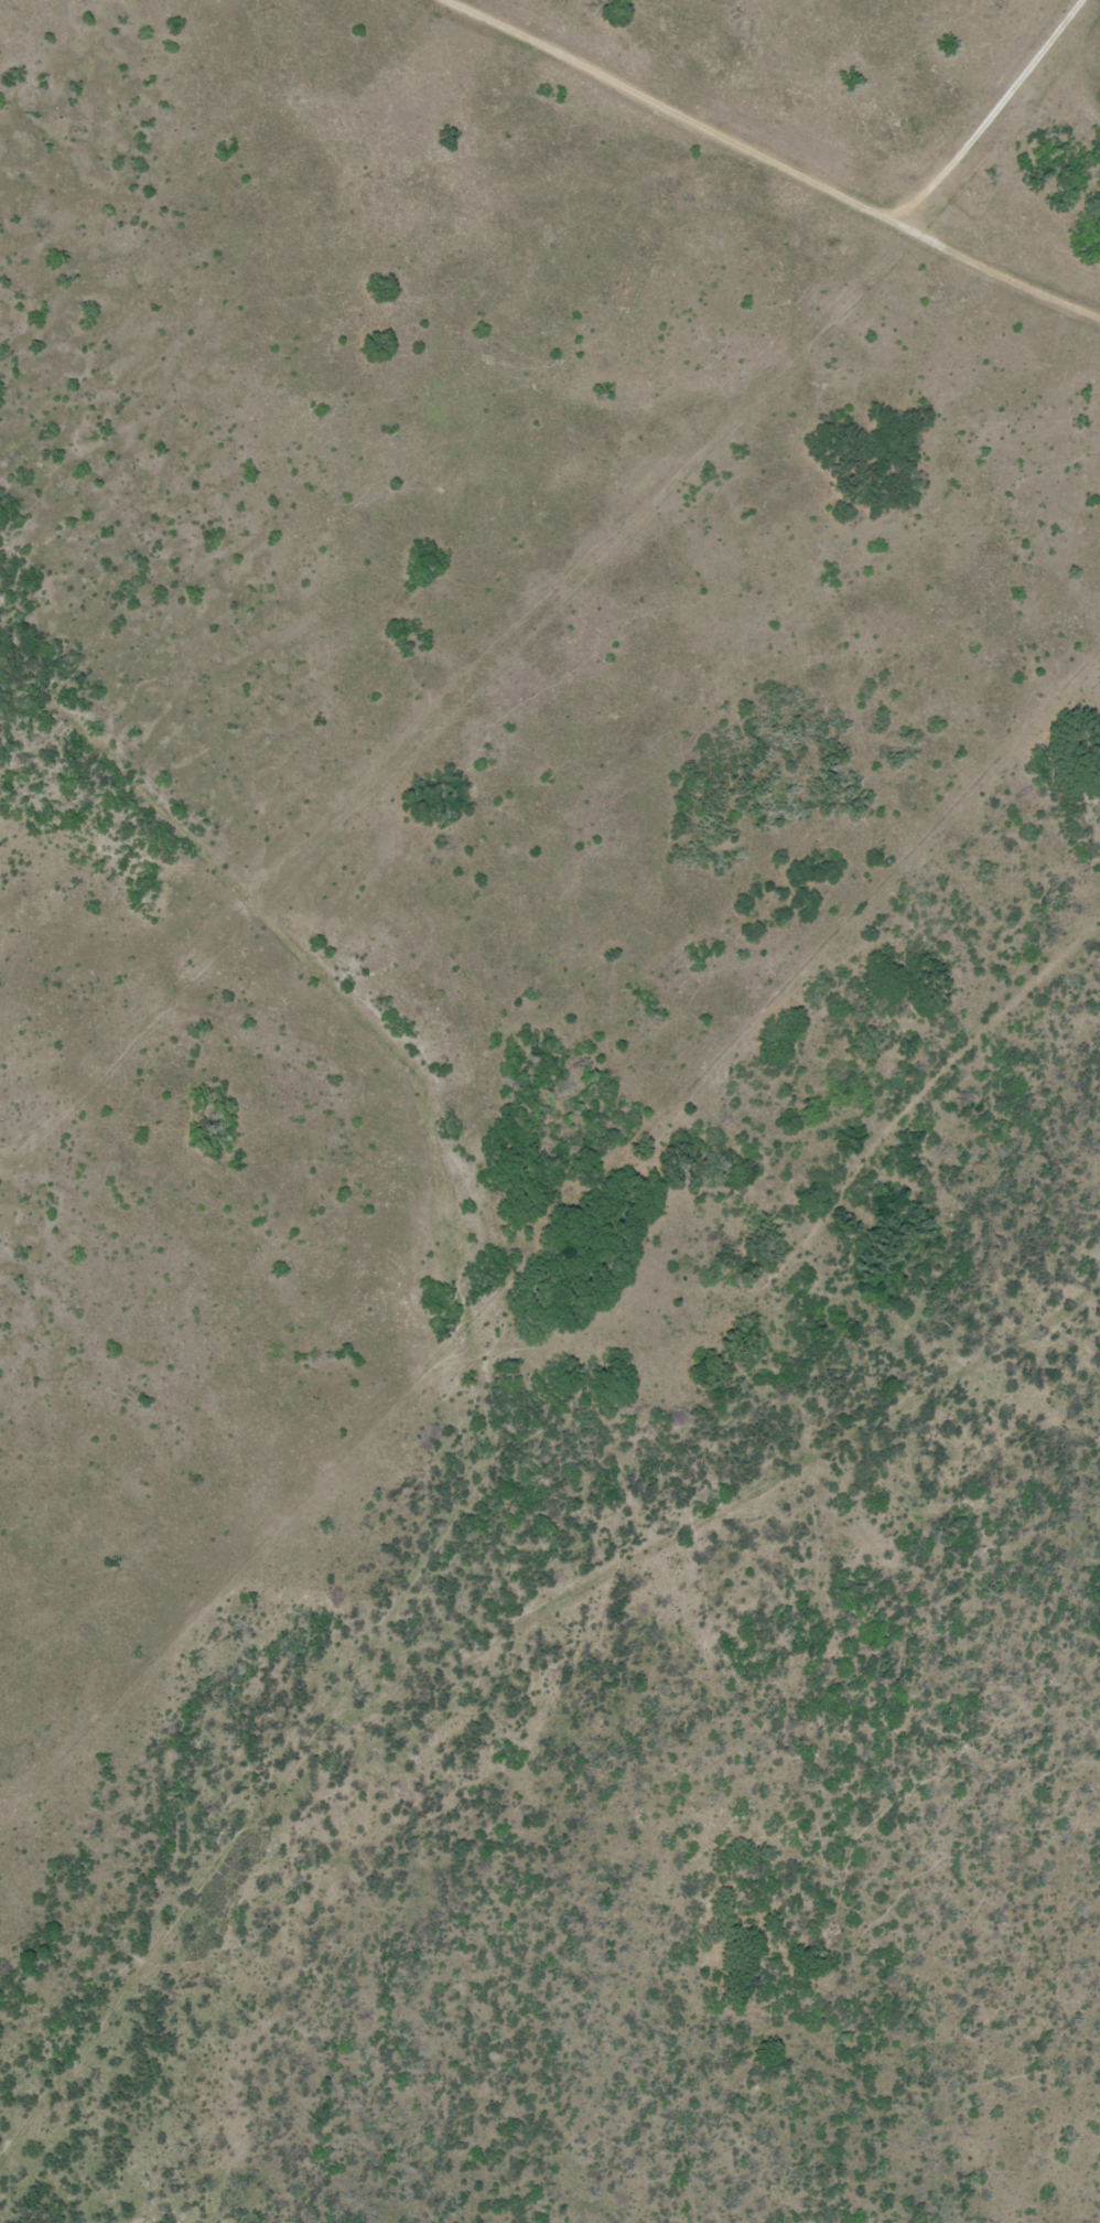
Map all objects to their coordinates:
road: (770, 154)
building: (842, 1260)
storage tank: (842, 1260)

